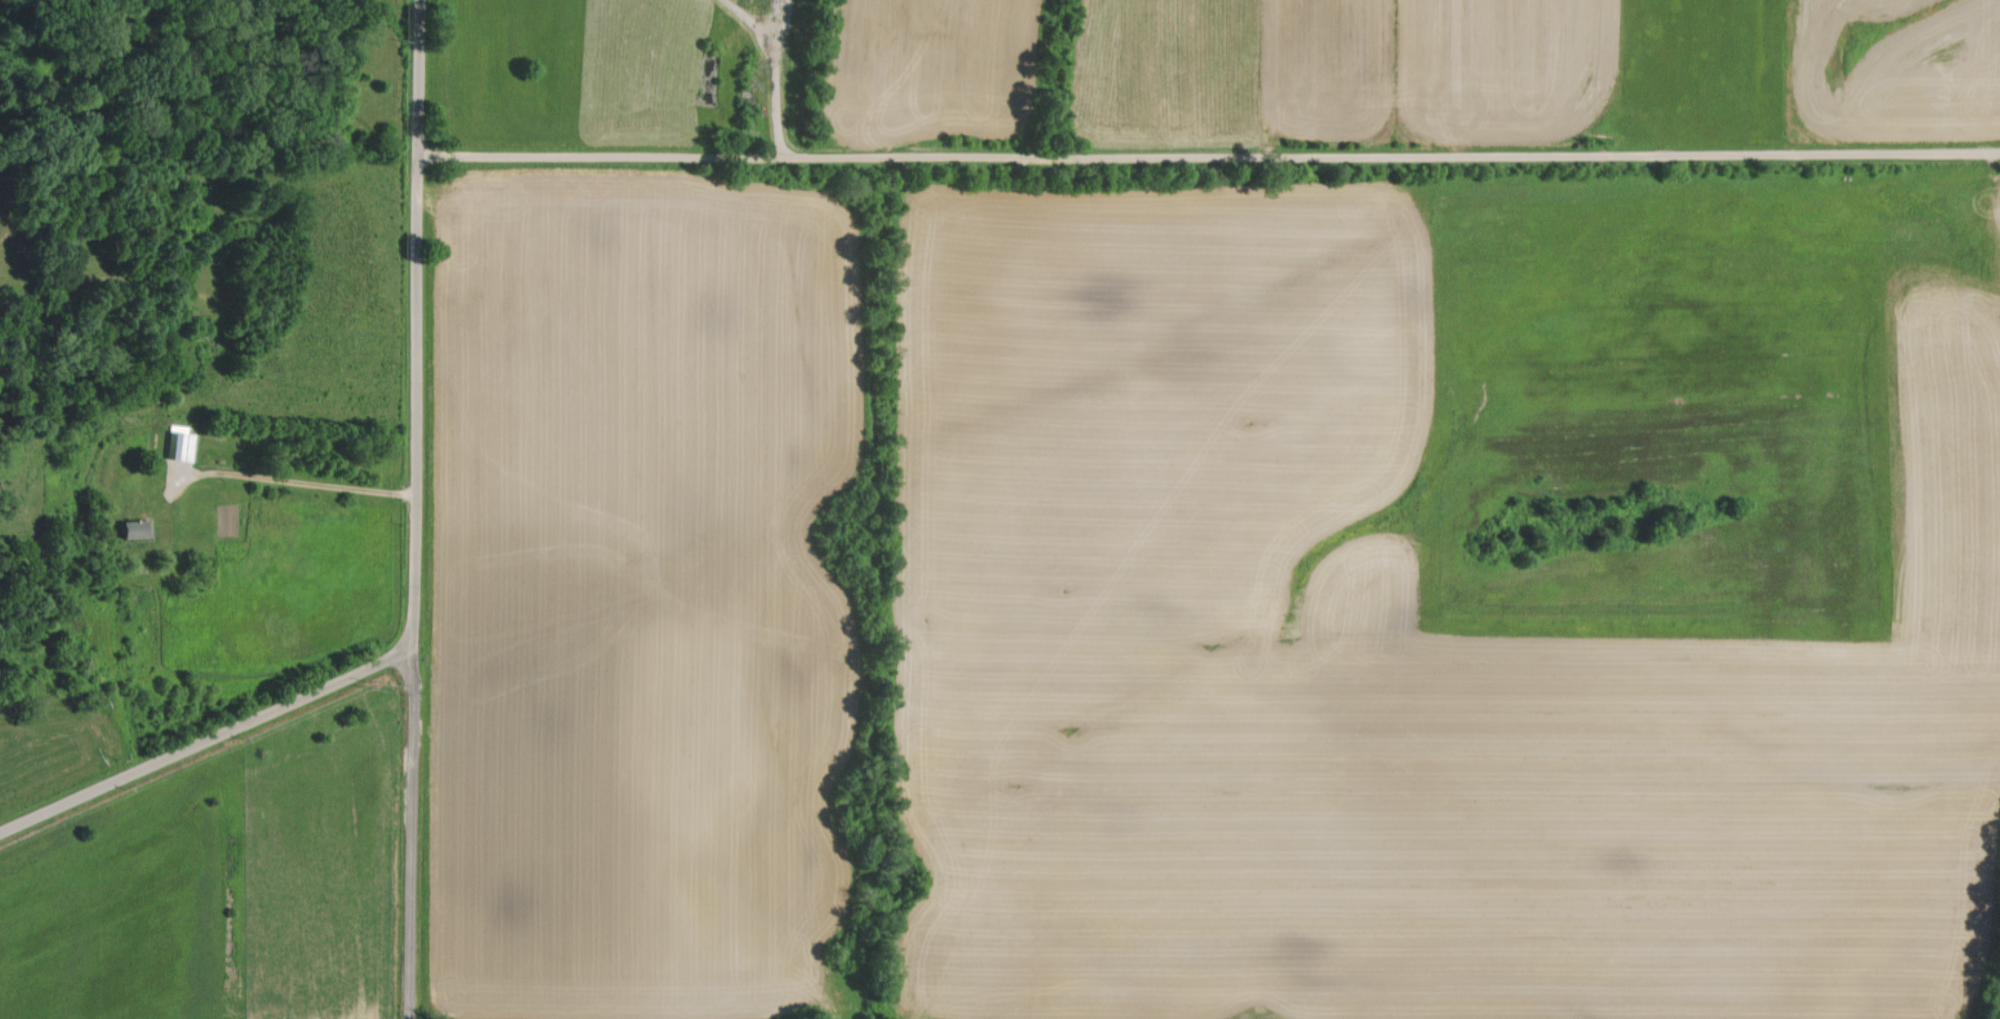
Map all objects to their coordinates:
road: (1209, 156)
building: (180, 445)
road: (294, 481)
road: (411, 509)
building: (134, 528)
road: (202, 730)

